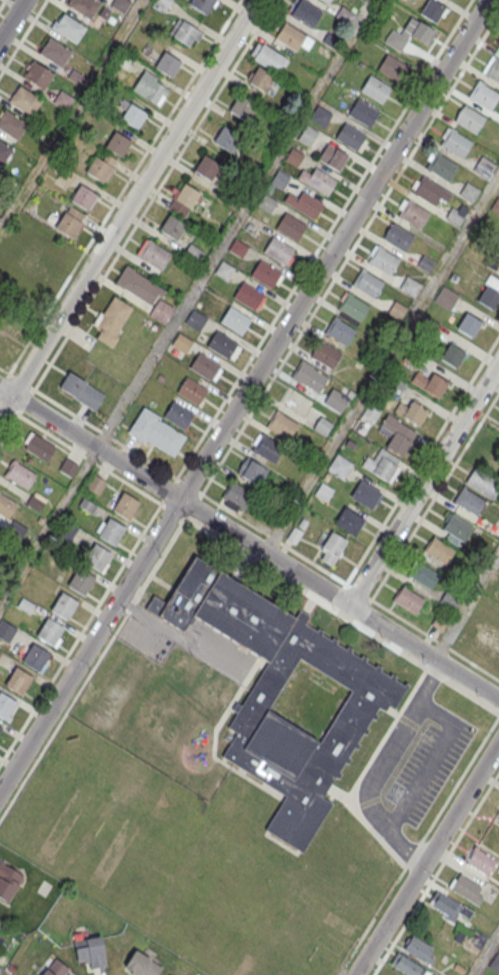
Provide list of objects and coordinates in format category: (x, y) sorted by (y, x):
building: (364, 0)
building: (325, 1)
road: (2, 4)
building: (120, 5)
building: (202, 5)
building: (84, 7)
building: (432, 10)
building: (305, 13)
building: (345, 15)
road: (12, 20)
building: (68, 28)
building: (185, 33)
building: (410, 34)
road: (22, 37)
building: (291, 37)
building: (498, 49)
building: (498, 51)
building: (54, 53)
building: (267, 57)
building: (167, 65)
building: (392, 67)
building: (493, 69)
building: (38, 75)
building: (260, 79)
building: (375, 88)
building: (154, 93)
building: (484, 95)
building: (62, 99)
building: (25, 101)
building: (240, 108)
building: (363, 112)
road: (71, 115)
building: (320, 115)
building: (133, 116)
building: (469, 118)
building: (11, 125)
building: (307, 136)
building: (350, 136)
building: (225, 139)
building: (456, 143)
building: (117, 144)
building: (4, 152)
building: (294, 156)
building: (332, 157)
building: (441, 166)
building: (485, 166)
building: (206, 168)
building: (97, 169)
building: (320, 181)
building: (428, 190)
road: (121, 191)
building: (469, 191)
road: (154, 195)
building: (186, 196)
building: (82, 198)
building: (266, 202)
building: (307, 205)
building: (495, 205)
road: (128, 207)
building: (413, 213)
building: (454, 216)
road: (235, 224)
building: (67, 225)
building: (290, 226)
building: (171, 227)
building: (397, 236)
building: (238, 248)
building: (278, 250)
road: (350, 254)
building: (153, 255)
building: (37, 257)
building: (383, 259)
building: (497, 269)
building: (224, 270)
building: (265, 273)
building: (367, 282)
building: (409, 285)
building: (138, 286)
building: (248, 295)
building: (446, 296)
building: (488, 297)
building: (352, 307)
building: (396, 310)
building: (161, 312)
building: (196, 319)
building: (235, 319)
building: (112, 321)
building: (469, 325)
building: (339, 332)
building: (181, 342)
building: (221, 344)
building: (325, 355)
building: (451, 355)
road: (381, 364)
building: (204, 365)
building: (311, 380)
road: (4, 381)
building: (434, 386)
building: (81, 390)
building: (191, 390)
road: (243, 395)
building: (336, 400)
building: (178, 414)
building: (370, 414)
building: (414, 414)
building: (322, 425)
road: (92, 426)
building: (281, 426)
building: (156, 431)
road: (199, 440)
building: (397, 444)
building: (39, 448)
building: (266, 449)
road: (87, 458)
road: (422, 460)
building: (68, 466)
building: (339, 466)
building: (383, 469)
building: (251, 471)
building: (20, 475)
building: (482, 481)
building: (96, 484)
road: (423, 484)
building: (236, 495)
building: (364, 496)
building: (468, 500)
building: (35, 502)
building: (125, 506)
building: (6, 507)
building: (348, 521)
road: (191, 522)
building: (456, 526)
road: (48, 528)
building: (67, 529)
building: (111, 531)
building: (0, 534)
road: (249, 543)
building: (331, 548)
building: (438, 549)
building: (97, 557)
building: (422, 574)
building: (81, 581)
building: (407, 598)
road: (465, 603)
building: (63, 605)
building: (6, 630)
building: (49, 631)
building: (489, 634)
road: (80, 635)
road: (179, 636)
building: (35, 657)
road: (432, 676)
building: (18, 680)
building: (5, 705)
building: (365, 706)
building: (0, 727)
road: (427, 762)
road: (383, 767)
road: (410, 854)
road: (427, 858)
building: (481, 861)
road: (436, 873)
building: (7, 881)
building: (466, 889)
building: (498, 890)
building: (447, 906)
building: (418, 948)
building: (90, 952)
road: (486, 955)
building: (494, 963)
building: (141, 964)
building: (405, 964)
building: (55, 968)

